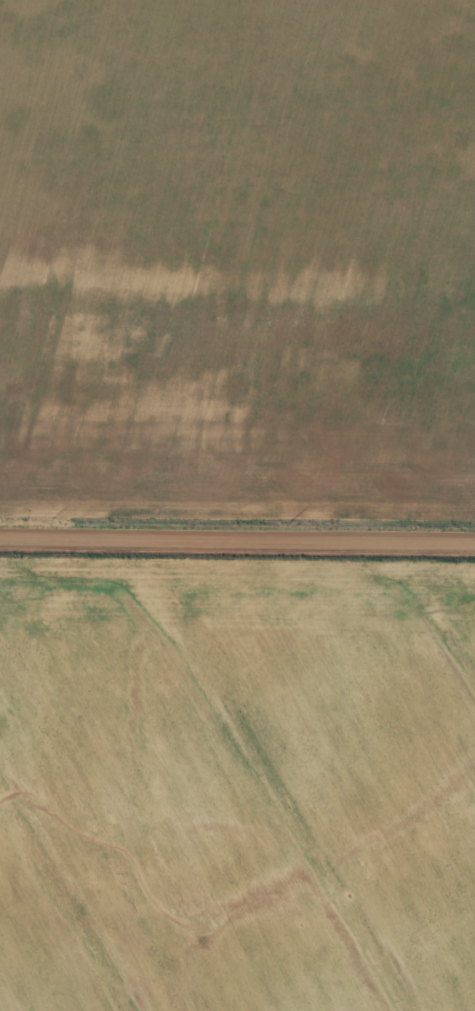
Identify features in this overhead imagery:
road: (237, 537)

